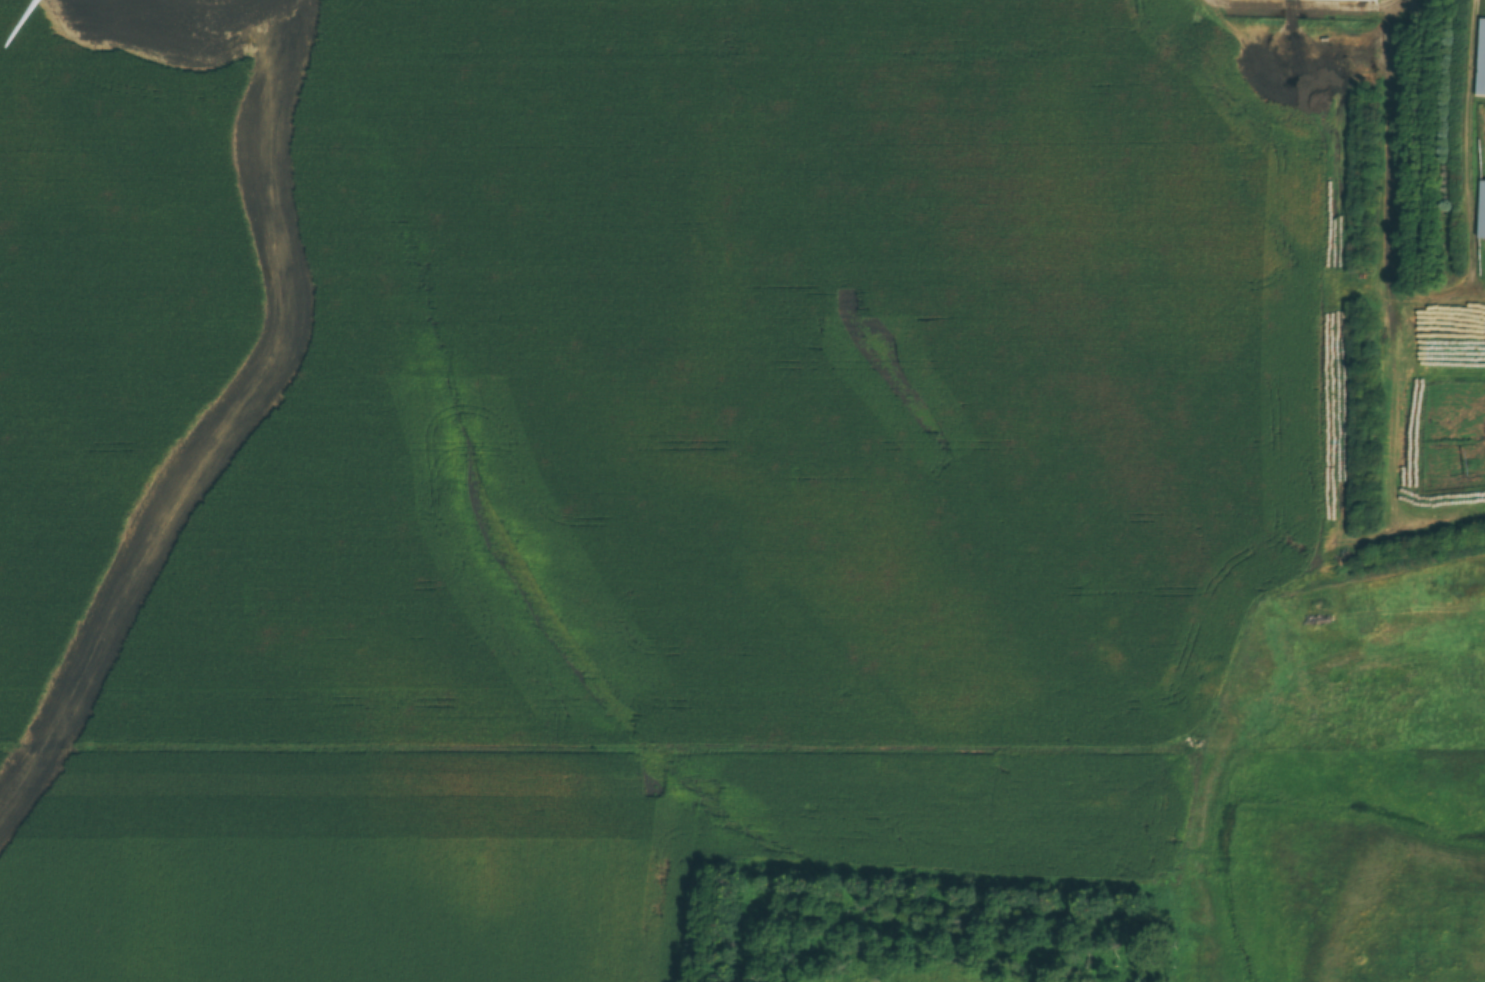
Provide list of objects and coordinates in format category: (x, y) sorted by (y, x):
building: (1479, 62)
building: (1479, 213)

